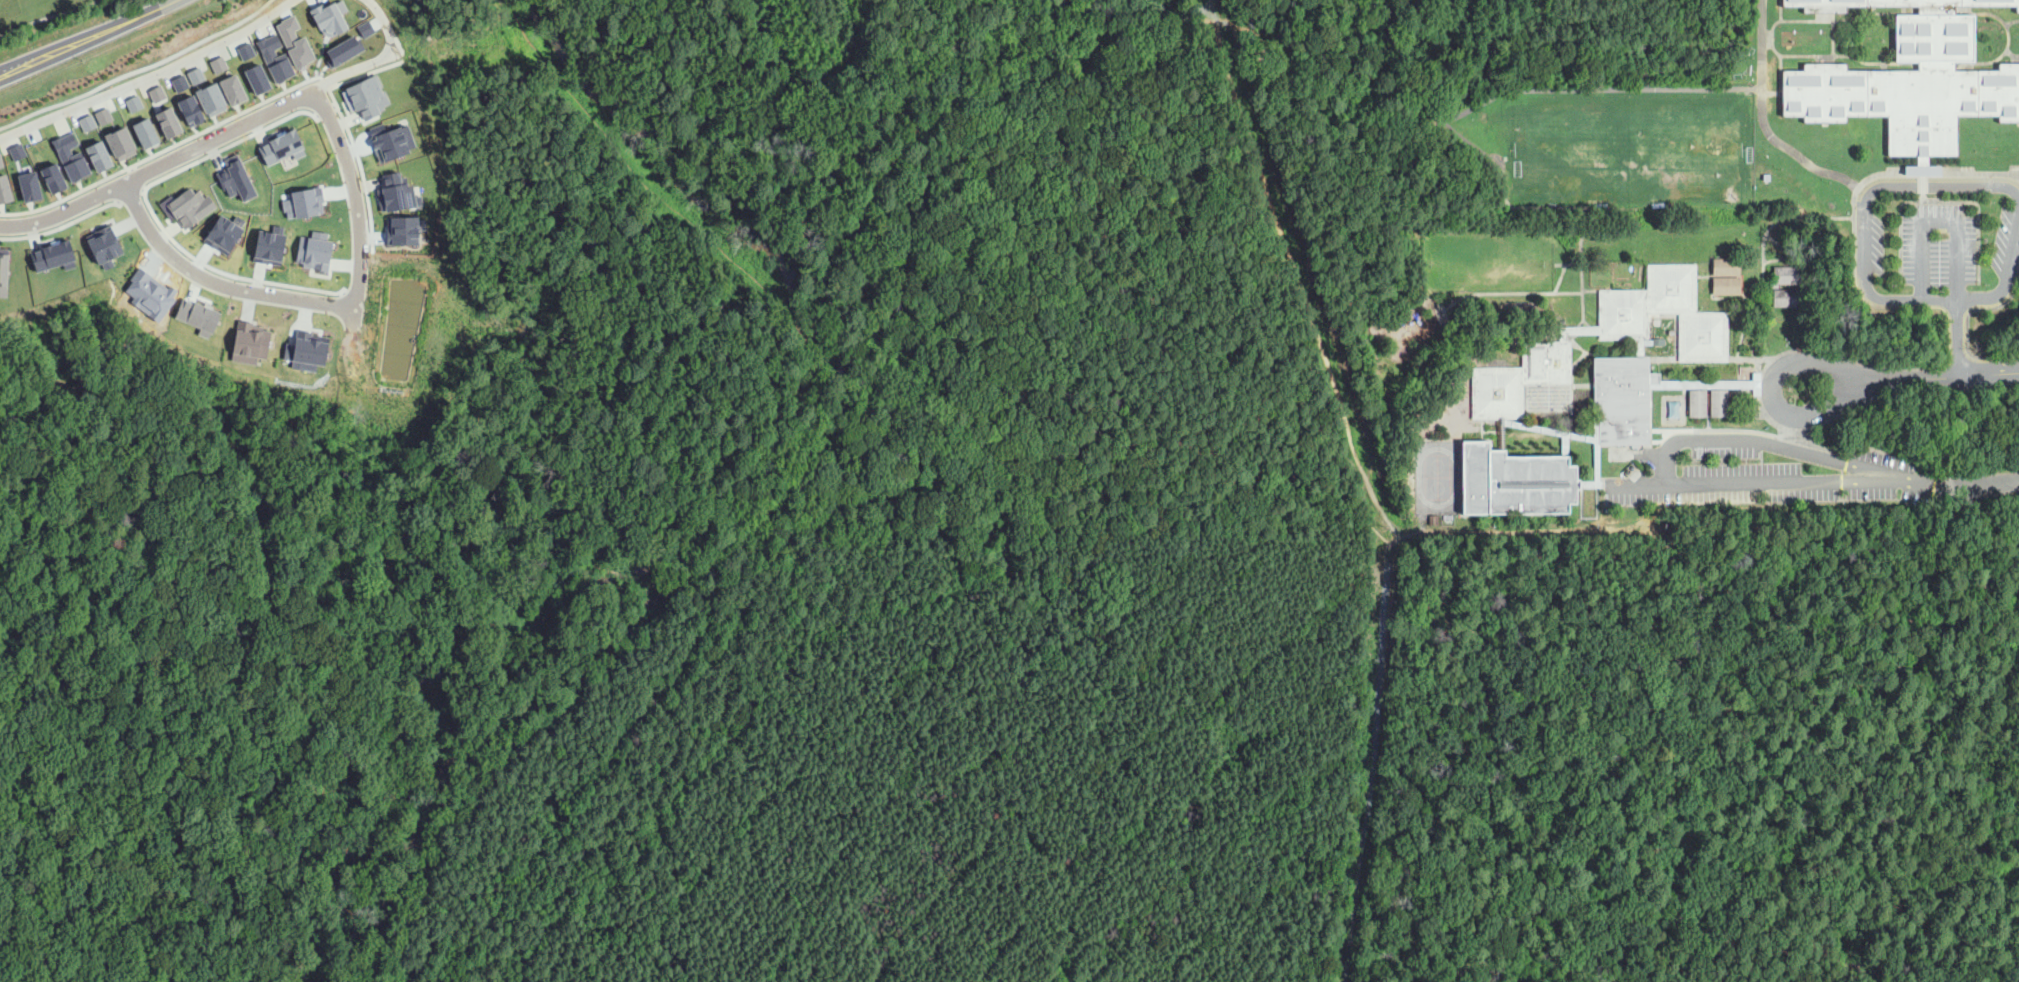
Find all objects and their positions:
building: (325, 11)
road: (48, 17)
road: (1257, 27)
road: (90, 37)
building: (297, 43)
road: (1764, 43)
building: (340, 47)
road: (382, 57)
building: (277, 63)
road: (138, 69)
road: (818, 69)
building: (192, 75)
building: (256, 75)
road: (151, 77)
building: (1910, 81)
building: (175, 84)
building: (231, 86)
building: (364, 92)
building: (154, 94)
building: (211, 95)
road: (1106, 96)
road: (1489, 101)
building: (130, 103)
building: (187, 103)
building: (100, 116)
building: (168, 118)
building: (84, 122)
building: (145, 128)
building: (390, 136)
building: (119, 138)
building: (279, 144)
park: (1626, 147)
building: (15, 148)
building: (97, 149)
road: (1796, 153)
building: (70, 154)
building: (89, 157)
road: (160, 167)
building: (52, 175)
road: (1352, 176)
building: (232, 177)
building: (1767, 178)
building: (2, 180)
road: (2014, 181)
building: (25, 182)
road: (1951, 183)
building: (392, 187)
building: (300, 197)
building: (184, 203)
road: (357, 207)
road: (1939, 222)
building: (220, 227)
building: (399, 228)
road: (1019, 228)
building: (100, 240)
building: (266, 240)
parking lot: (1940, 244)
building: (51, 251)
building: (312, 252)
building: (1, 266)
building: (1726, 267)
road: (1299, 272)
building: (1787, 275)
road: (1863, 279)
road: (216, 284)
road: (2006, 284)
building: (1726, 286)
building: (148, 289)
building: (1787, 297)
building: (196, 315)
road: (1957, 337)
building: (247, 340)
building: (303, 348)
road: (1942, 374)
road: (1771, 395)
building: (1621, 402)
building: (1697, 402)
building: (1718, 402)
road: (809, 453)
road: (1664, 463)
parking lot: (1751, 474)
road: (1965, 484)
road: (1638, 486)
road: (1333, 515)
building: (1447, 517)
building: (1433, 519)
road: (1530, 533)
road: (403, 542)
road: (1627, 630)
road: (1710, 722)
road: (1893, 753)
road: (1371, 760)
road: (287, 785)
road: (1979, 788)
road: (953, 793)
road: (1769, 802)
road: (1455, 845)
road: (1802, 858)
road: (1965, 888)
road: (54, 952)
road: (1704, 956)

